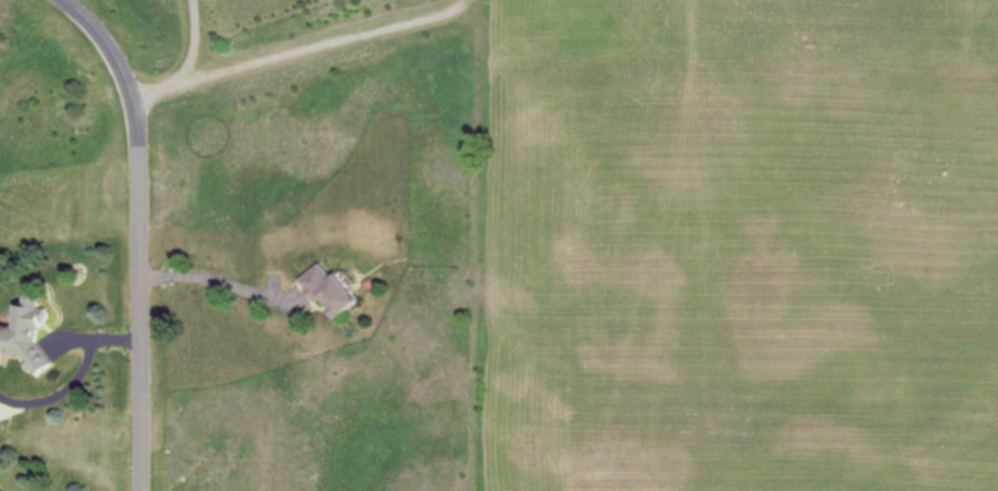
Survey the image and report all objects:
road: (292, 55)
road: (162, 93)
road: (140, 231)
road: (222, 283)
building: (330, 289)
building: (27, 334)
road: (75, 371)
road: (79, 435)

